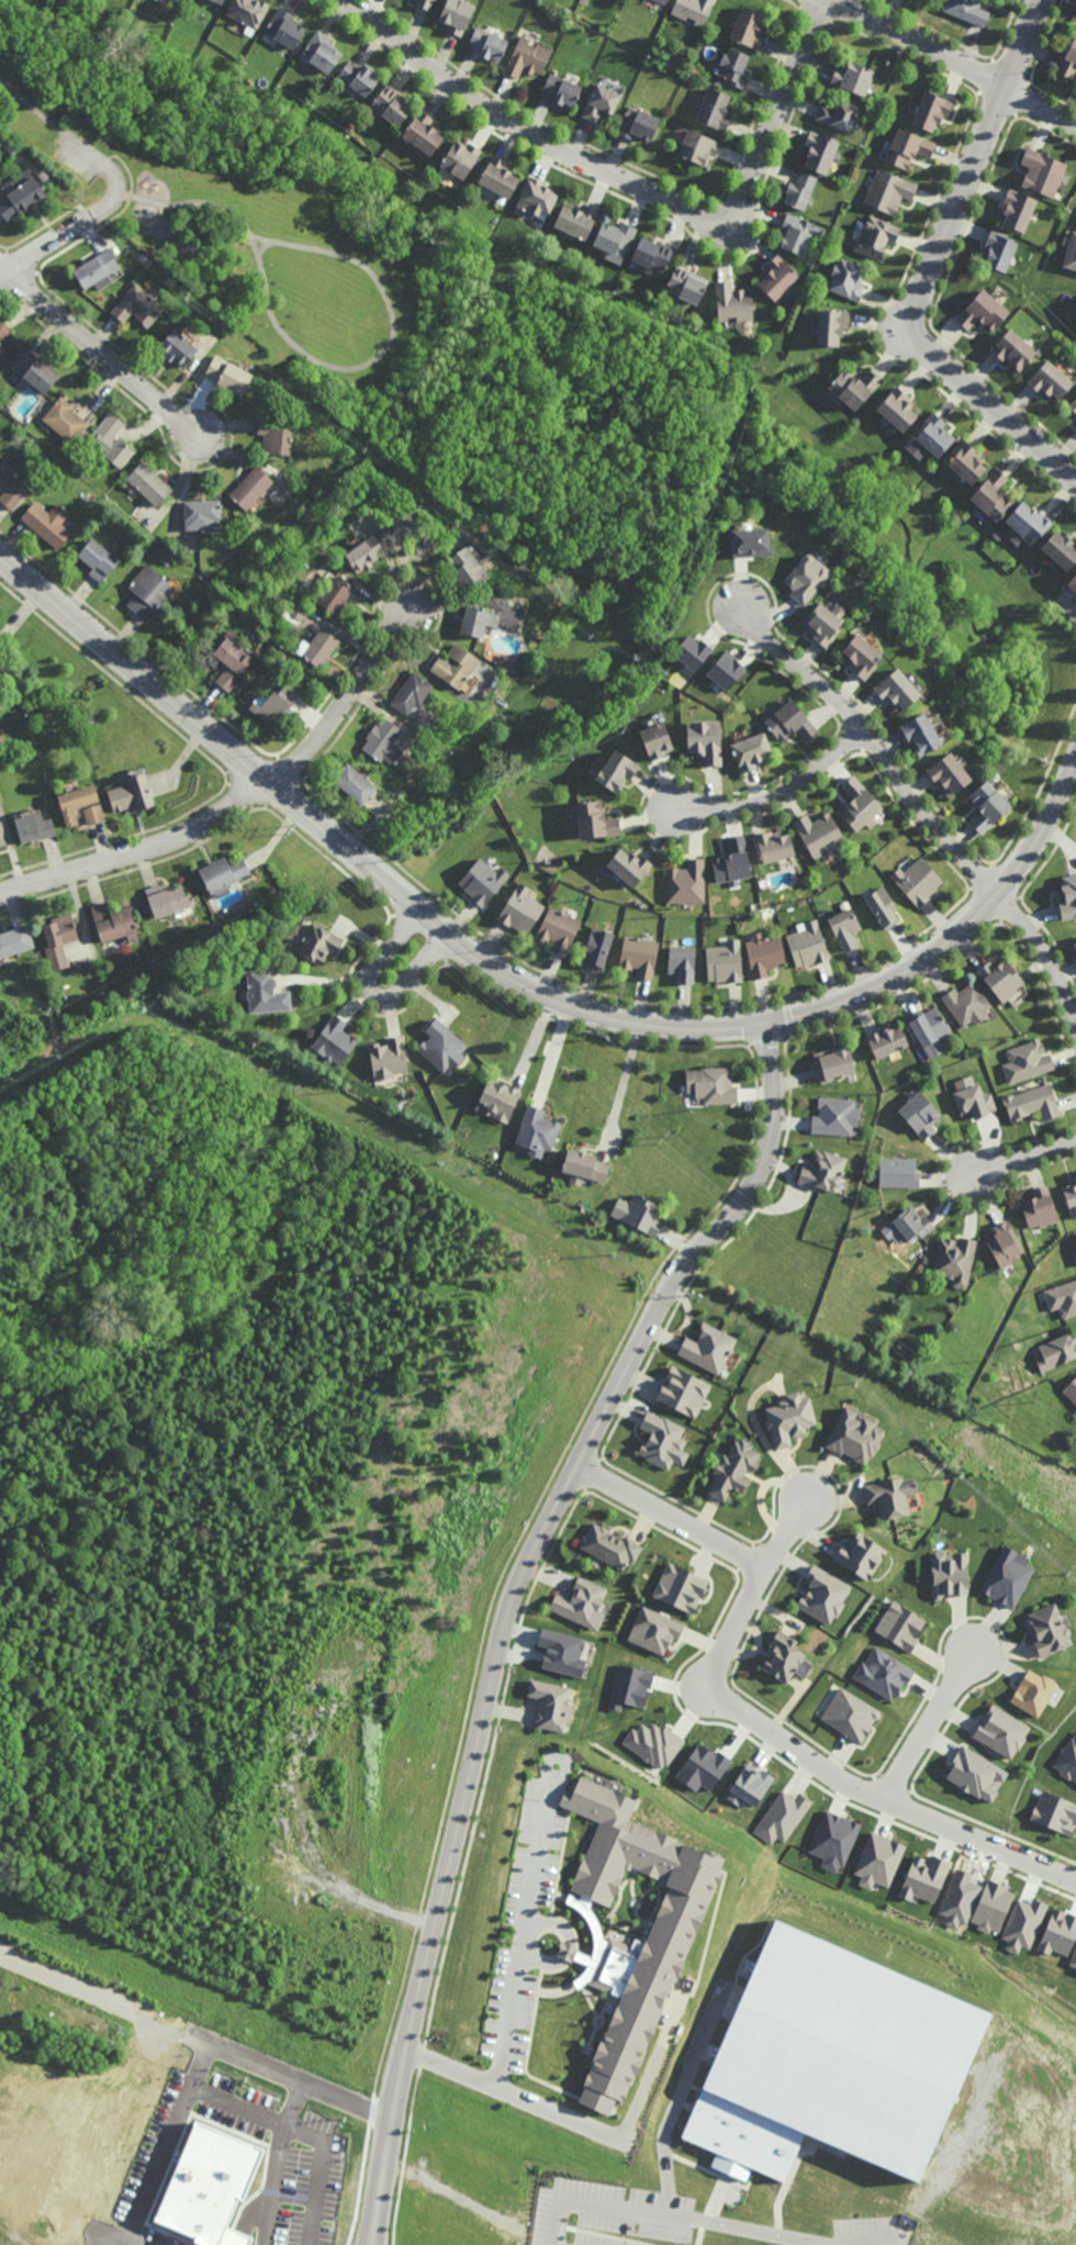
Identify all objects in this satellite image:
building: (173, 0)
building: (216, 1)
building: (662, 1)
building: (425, 4)
building: (568, 10)
building: (693, 10)
building: (967, 10)
building: (247, 13)
building: (456, 15)
building: (748, 27)
building: (284, 29)
building: (487, 44)
building: (321, 53)
building: (528, 58)
road: (952, 59)
building: (1068, 62)
building: (733, 67)
building: (358, 78)
building: (853, 78)
building: (718, 81)
building: (562, 90)
building: (601, 102)
road: (32, 105)
building: (391, 105)
building: (715, 110)
building: (929, 111)
building: (838, 115)
building: (638, 124)
building: (422, 134)
road: (237, 147)
building: (908, 147)
building: (698, 148)
building: (820, 152)
parking lot: (78, 154)
building: (460, 159)
road: (112, 171)
building: (1041, 174)
building: (43, 175)
building: (498, 178)
road: (232, 179)
road: (630, 181)
road: (332, 189)
building: (799, 190)
building: (888, 191)
building: (20, 193)
building: (535, 197)
road: (189, 204)
building: (1017, 209)
building: (575, 219)
building: (797, 233)
building: (614, 236)
building: (875, 236)
park: (240, 244)
road: (43, 245)
road: (262, 249)
building: (997, 249)
building: (1071, 250)
building: (651, 253)
road: (934, 263)
building: (94, 268)
building: (776, 276)
building: (848, 278)
building: (685, 283)
building: (731, 301)
building: (137, 306)
building: (982, 310)
building: (225, 323)
building: (830, 325)
building: (3, 327)
building: (0, 343)
road: (562, 344)
road: (472, 345)
building: (0, 346)
building: (177, 348)
building: (1011, 348)
road: (101, 354)
road: (383, 355)
building: (34, 371)
building: (228, 375)
building: (1049, 379)
building: (854, 386)
road: (429, 395)
building: (1073, 404)
building: (897, 407)
building: (64, 420)
road: (675, 427)
road: (493, 431)
road: (619, 434)
building: (276, 435)
building: (933, 435)
building: (111, 440)
building: (963, 460)
building: (148, 483)
building: (251, 488)
building: (10, 490)
road: (648, 491)
building: (989, 494)
building: (201, 513)
building: (47, 522)
building: (1025, 522)
building: (413, 528)
building: (750, 543)
building: (1060, 549)
building: (363, 552)
building: (98, 558)
building: (466, 570)
building: (806, 578)
building: (1072, 582)
building: (147, 591)
building: (334, 594)
building: (300, 612)
building: (475, 622)
building: (822, 624)
building: (316, 647)
building: (692, 652)
building: (231, 655)
building: (861, 657)
building: (281, 659)
building: (455, 666)
building: (5, 669)
building: (634, 670)
building: (726, 670)
building: (225, 680)
building: (895, 690)
building: (410, 693)
road: (179, 705)
building: (271, 705)
building: (791, 723)
building: (1, 733)
building: (918, 735)
building: (381, 741)
building: (704, 742)
building: (653, 744)
building: (749, 753)
building: (616, 774)
building: (946, 774)
building: (354, 784)
road: (781, 792)
building: (131, 794)
road: (240, 801)
building: (75, 804)
building: (859, 805)
building: (986, 806)
road: (921, 809)
building: (93, 816)
building: (595, 824)
building: (33, 830)
power tower: (292, 830)
building: (820, 836)
building: (1, 839)
building: (773, 848)
building: (732, 860)
building: (627, 868)
building: (223, 873)
building: (482, 881)
building: (918, 881)
building: (686, 882)
building: (1067, 897)
building: (167, 898)
building: (883, 906)
building: (522, 908)
building: (115, 919)
building: (559, 927)
building: (845, 927)
building: (59, 937)
building: (14, 941)
building: (320, 943)
building: (597, 943)
building: (809, 943)
building: (1074, 947)
building: (638, 952)
building: (765, 952)
building: (682, 960)
building: (725, 960)
building: (1000, 979)
road: (373, 991)
building: (266, 992)
building: (967, 1004)
road: (741, 1025)
building: (929, 1025)
building: (336, 1040)
building: (887, 1040)
building: (442, 1046)
building: (389, 1058)
building: (1028, 1061)
building: (836, 1062)
road: (624, 1077)
building: (717, 1085)
building: (497, 1097)
building: (975, 1102)
building: (1033, 1102)
building: (920, 1114)
building: (837, 1116)
building: (538, 1129)
power tower: (658, 1142)
road: (1025, 1160)
building: (584, 1164)
building: (825, 1171)
building: (899, 1172)
building: (1075, 1176)
building: (1071, 1195)
building: (1041, 1208)
building: (641, 1214)
building: (914, 1224)
building: (1075, 1240)
building: (1006, 1244)
building: (927, 1247)
building: (955, 1260)
building: (931, 1267)
building: (1063, 1298)
building: (707, 1348)
building: (1057, 1351)
building: (1072, 1389)
building: (683, 1392)
power tower: (951, 1392)
building: (788, 1419)
building: (854, 1436)
building: (661, 1440)
building: (733, 1468)
building: (889, 1496)
road: (670, 1516)
building: (609, 1546)
building: (860, 1555)
building: (949, 1574)
building: (1007, 1576)
building: (681, 1588)
building: (822, 1595)
road: (508, 1600)
building: (580, 1601)
building: (900, 1626)
building: (654, 1630)
building: (1046, 1630)
building: (562, 1652)
building: (785, 1658)
building: (883, 1673)
building: (630, 1687)
building: (1032, 1693)
building: (551, 1705)
building: (850, 1715)
road: (930, 1722)
building: (1000, 1732)
building: (654, 1743)
road: (787, 1745)
building: (1067, 1760)
building: (703, 1767)
building: (974, 1774)
building: (749, 1786)
building: (1054, 1812)
building: (782, 1817)
building: (833, 1840)
building: (878, 1861)
building: (924, 1878)
building: (993, 1907)
building: (1023, 1924)
building: (1058, 1933)
building: (668, 1941)
building: (568, 1951)
building: (1074, 1961)
road: (518, 1973)
road: (192, 2044)
building: (782, 2067)
road: (236, 2107)
road: (621, 2133)
road: (154, 2170)
building: (209, 2186)
road: (614, 2208)
road: (766, 2232)

